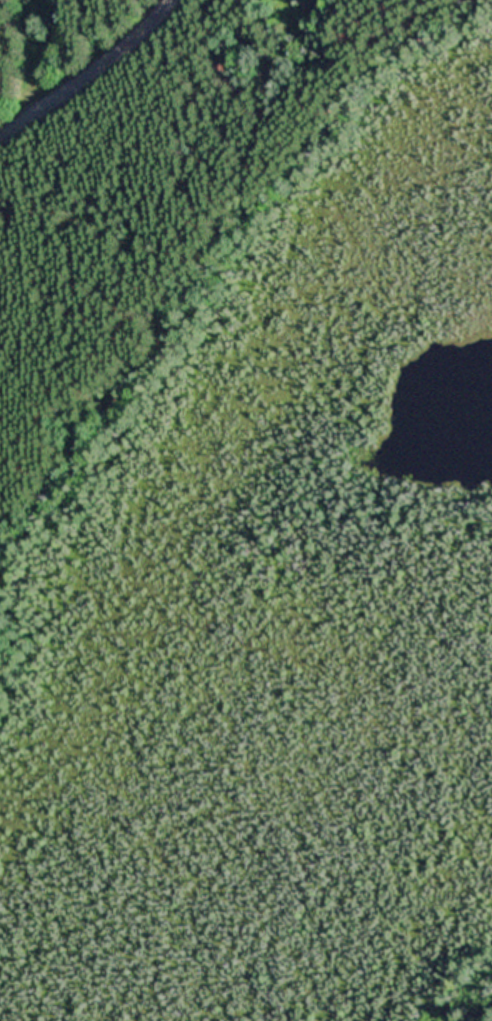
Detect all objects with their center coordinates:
road: (88, 73)

